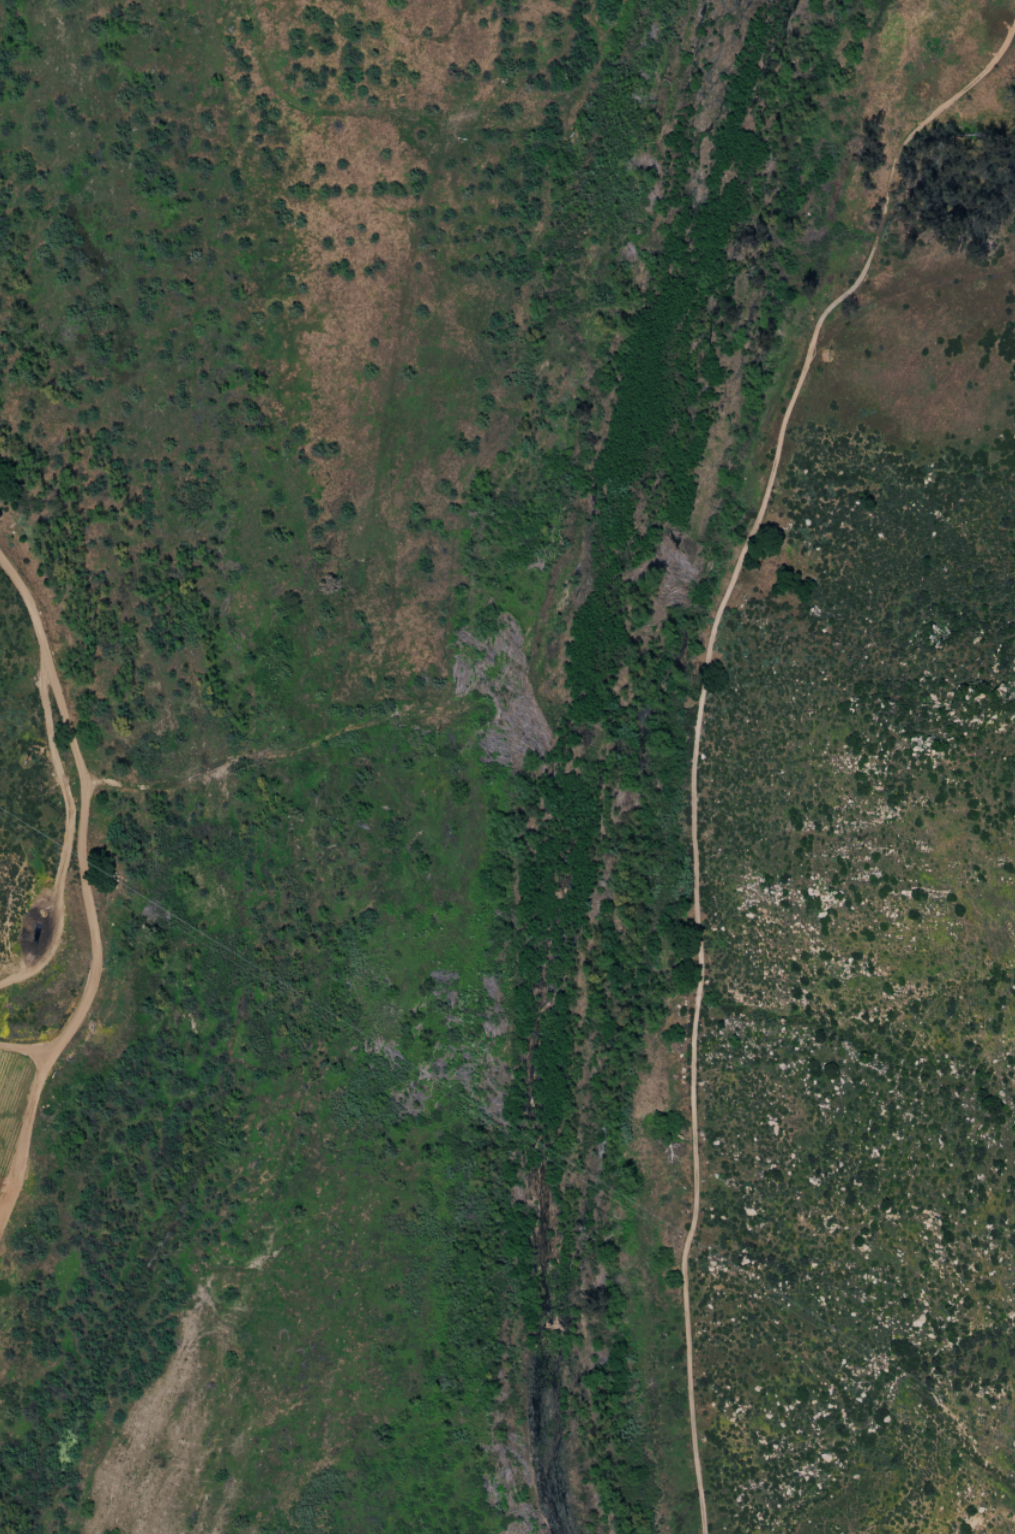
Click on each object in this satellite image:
road: (694, 730)
river: (619, 760)
park: (516, 766)
road: (84, 894)

